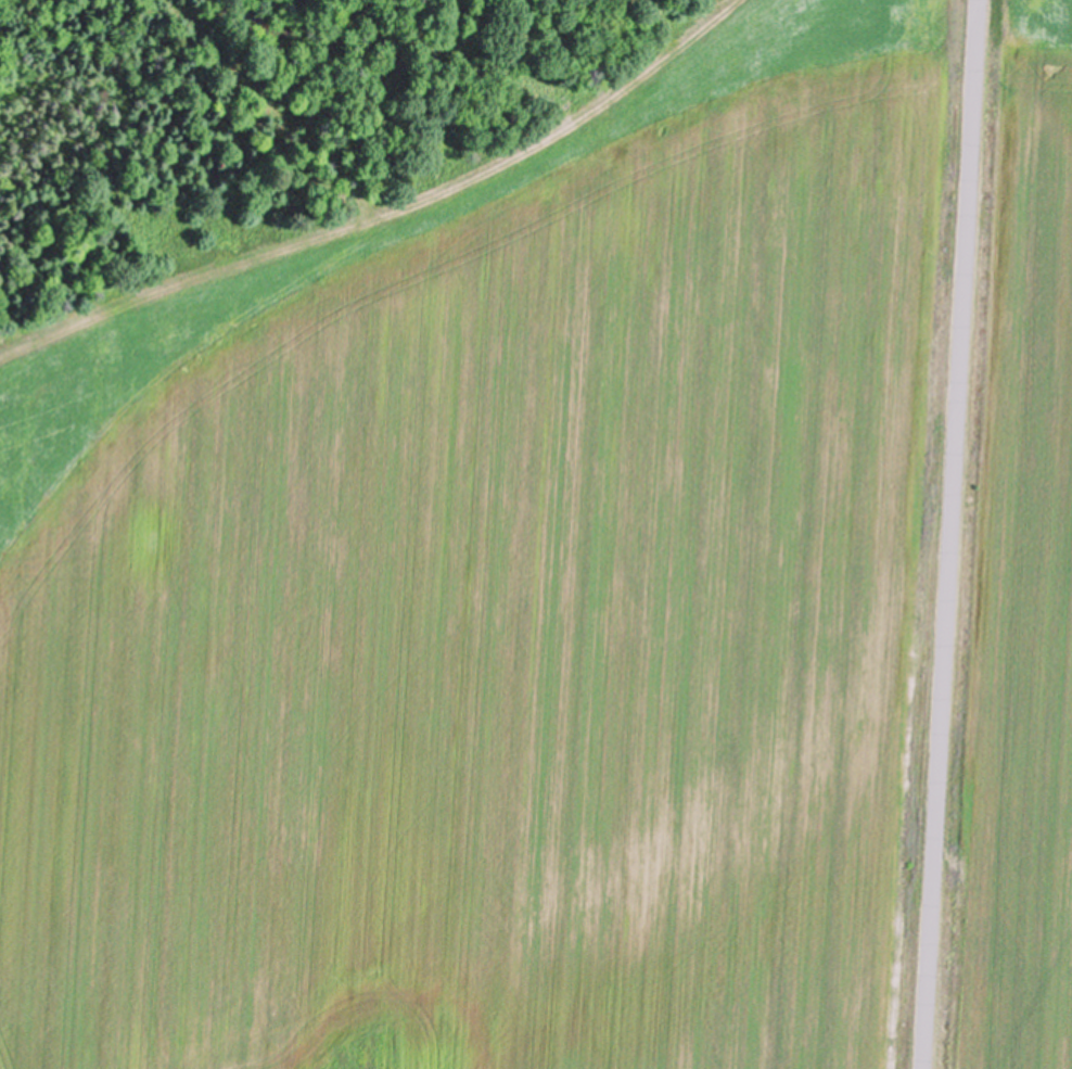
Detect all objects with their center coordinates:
road: (953, 534)
crop: (1018, 582)
crop: (500, 597)

